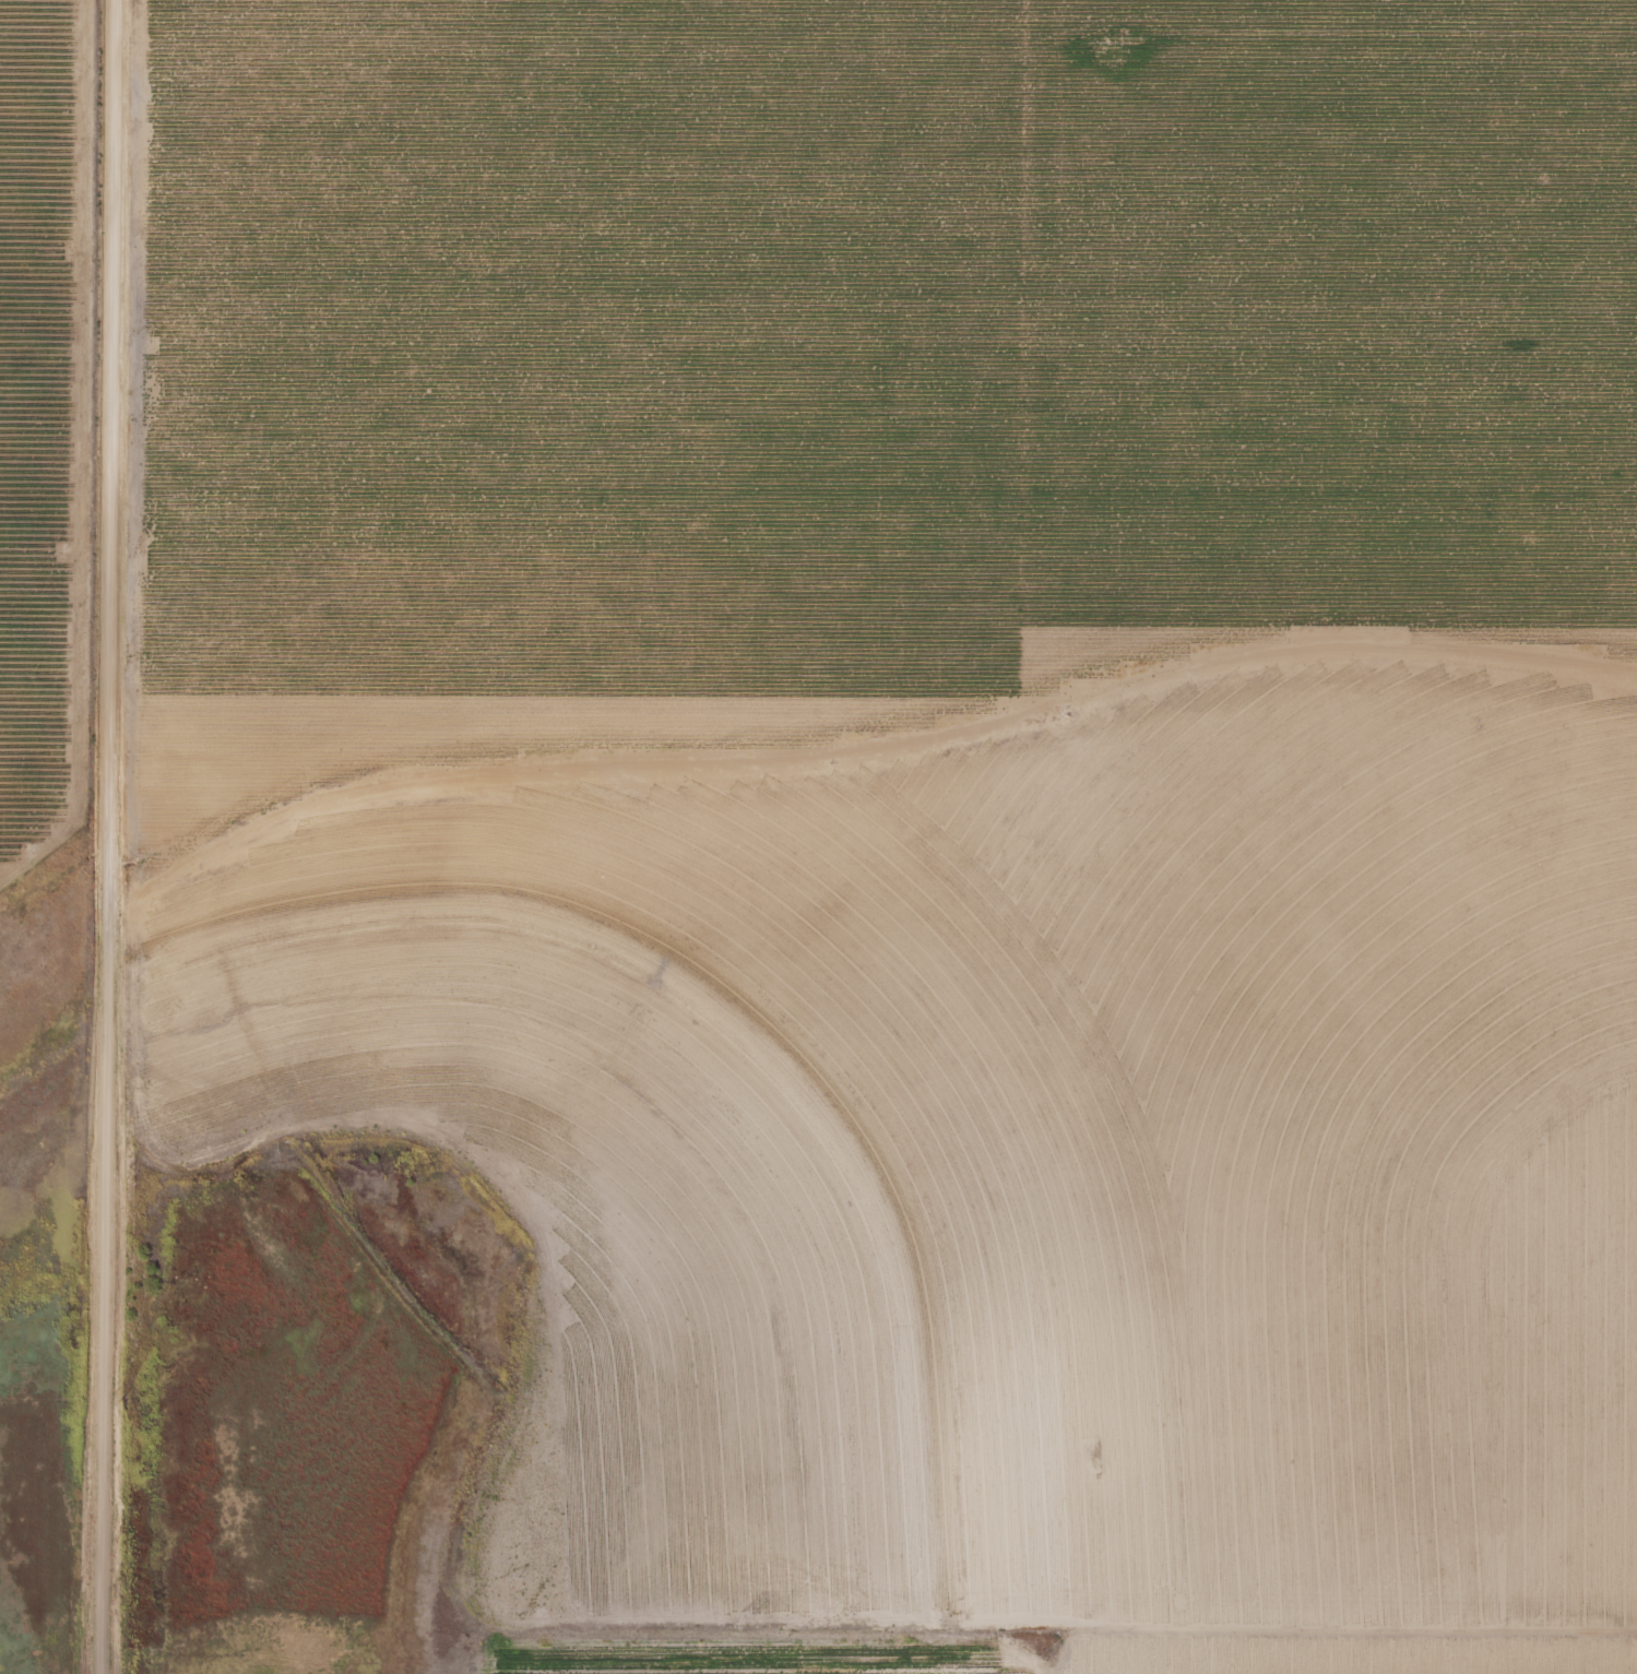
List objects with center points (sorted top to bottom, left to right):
road: (110, 836)
road: (54, 885)

